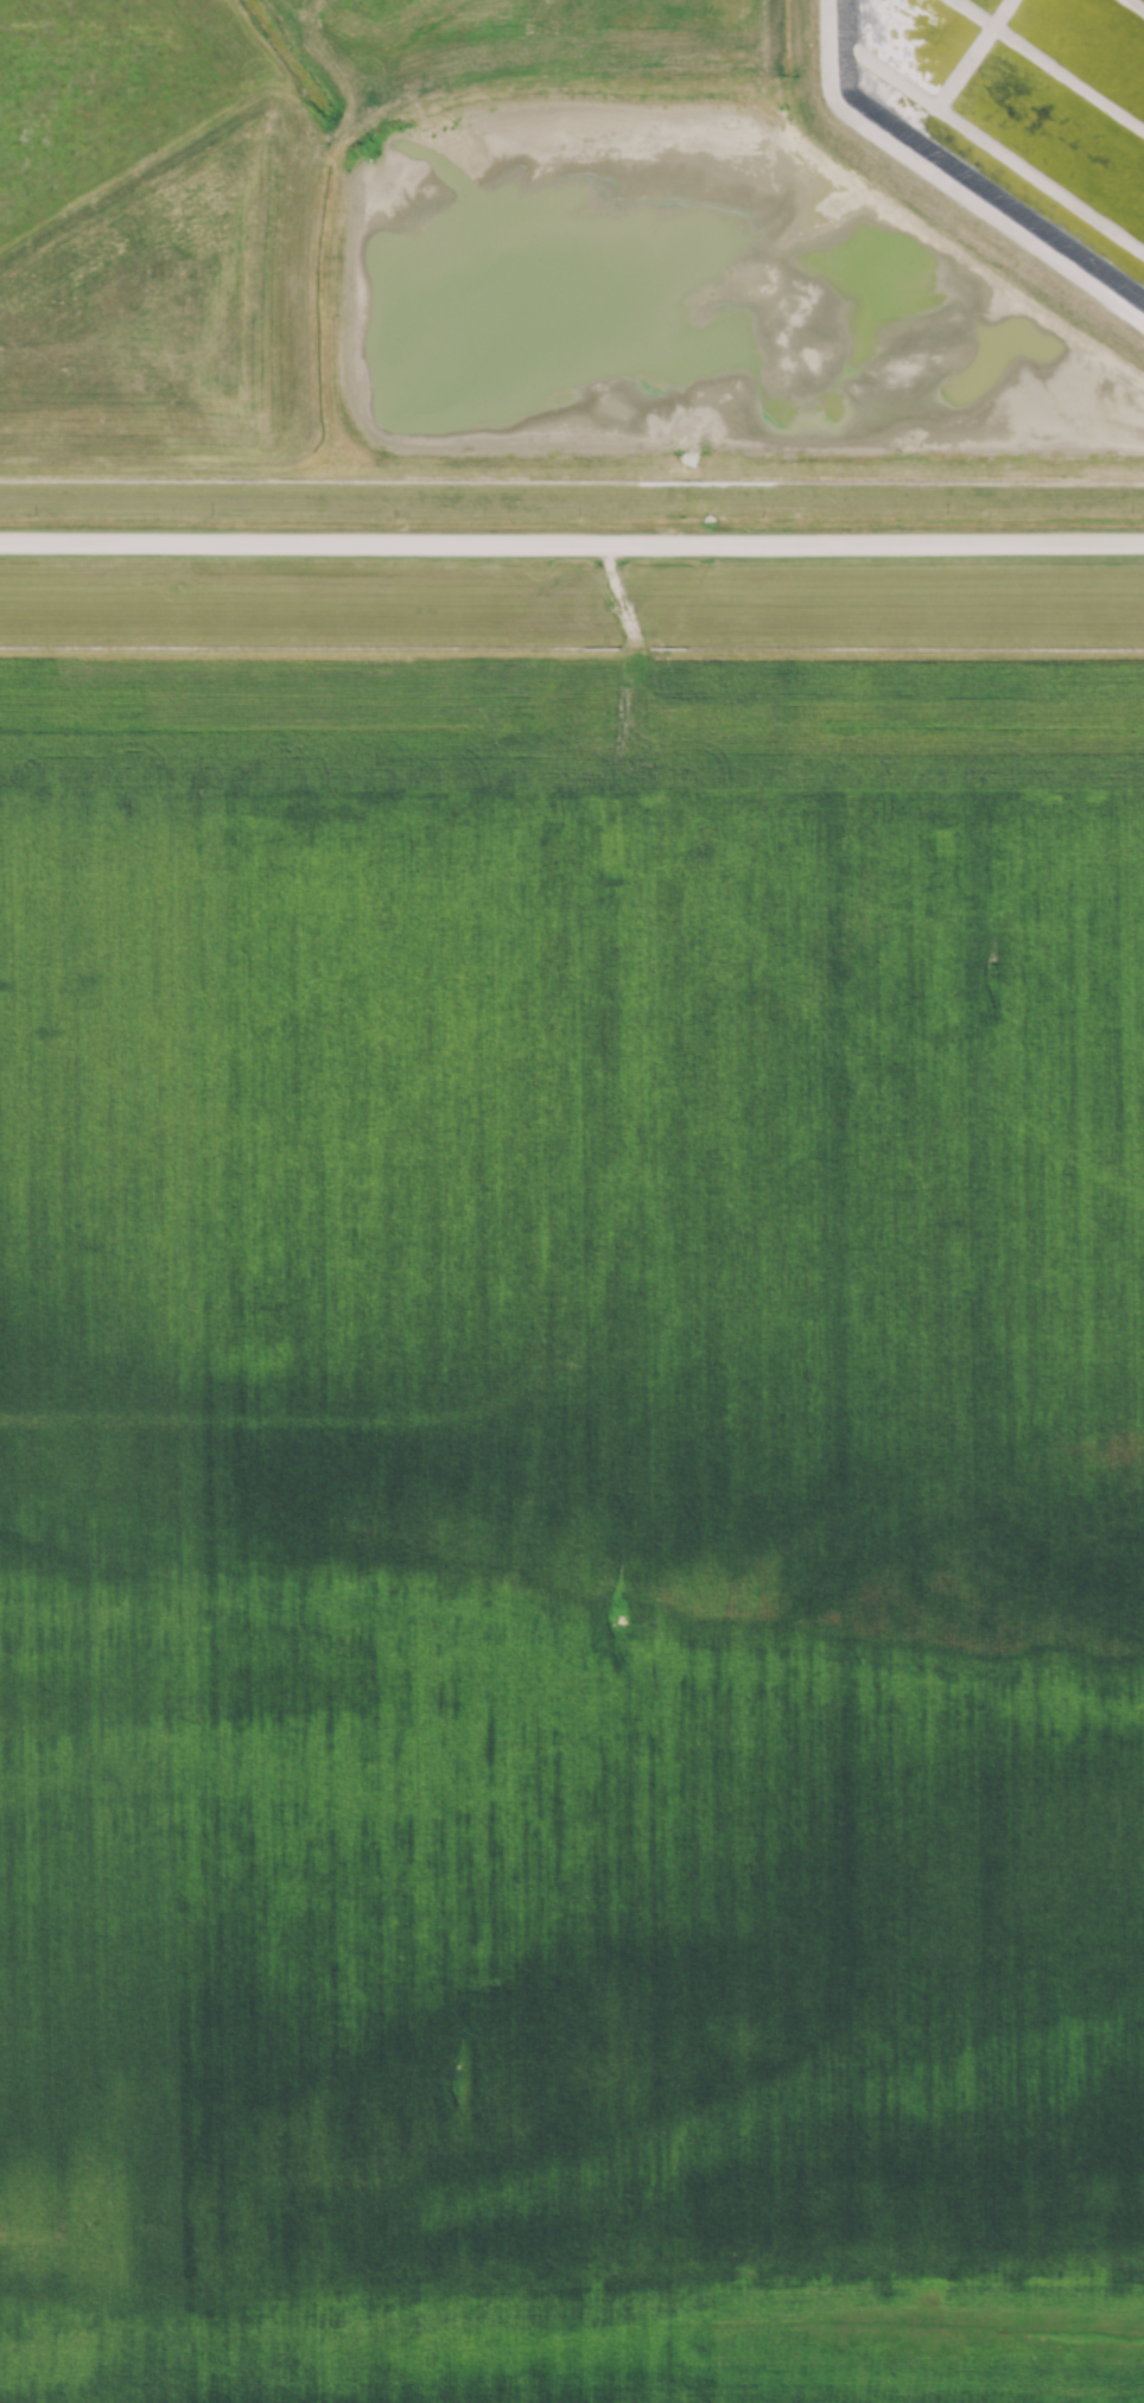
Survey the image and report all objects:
road: (571, 543)

